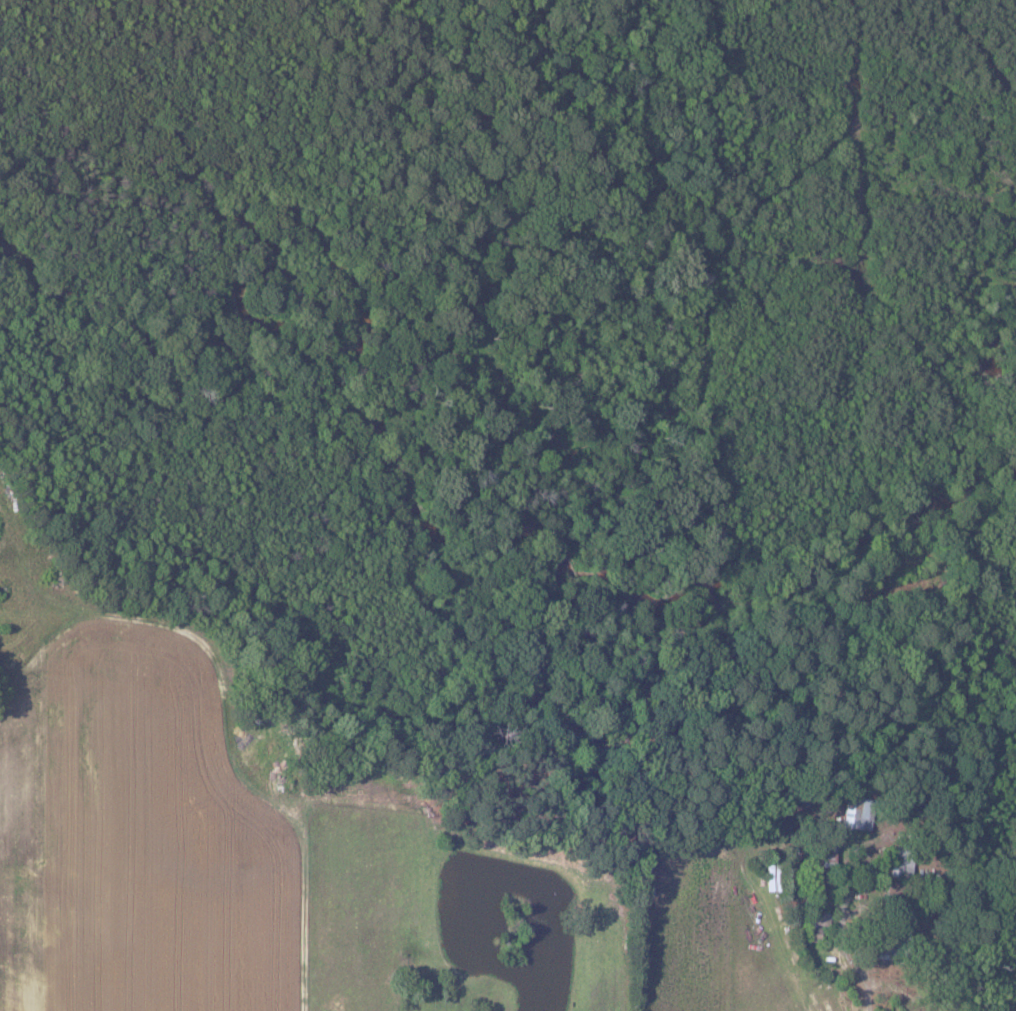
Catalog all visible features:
road: (230, 741)
building: (853, 812)
building: (826, 857)
building: (900, 868)
road: (830, 930)

